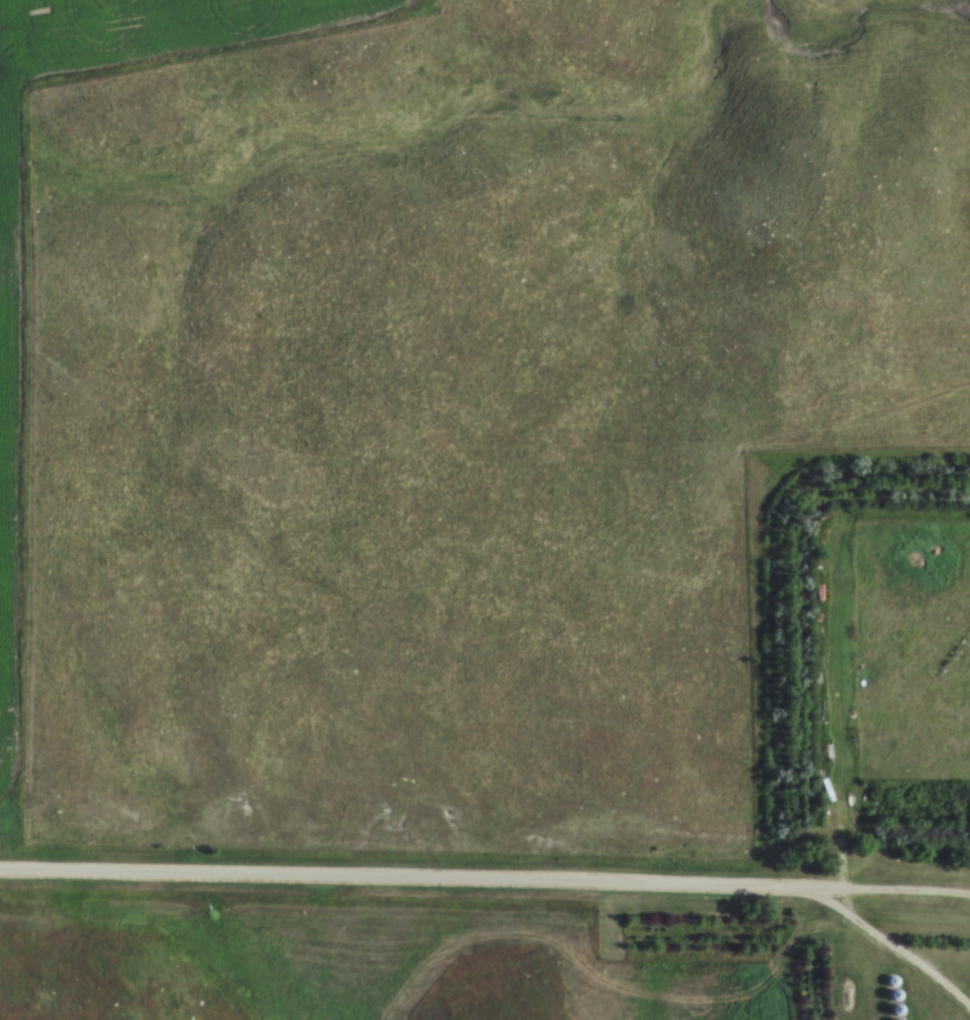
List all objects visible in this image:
road: (485, 875)

